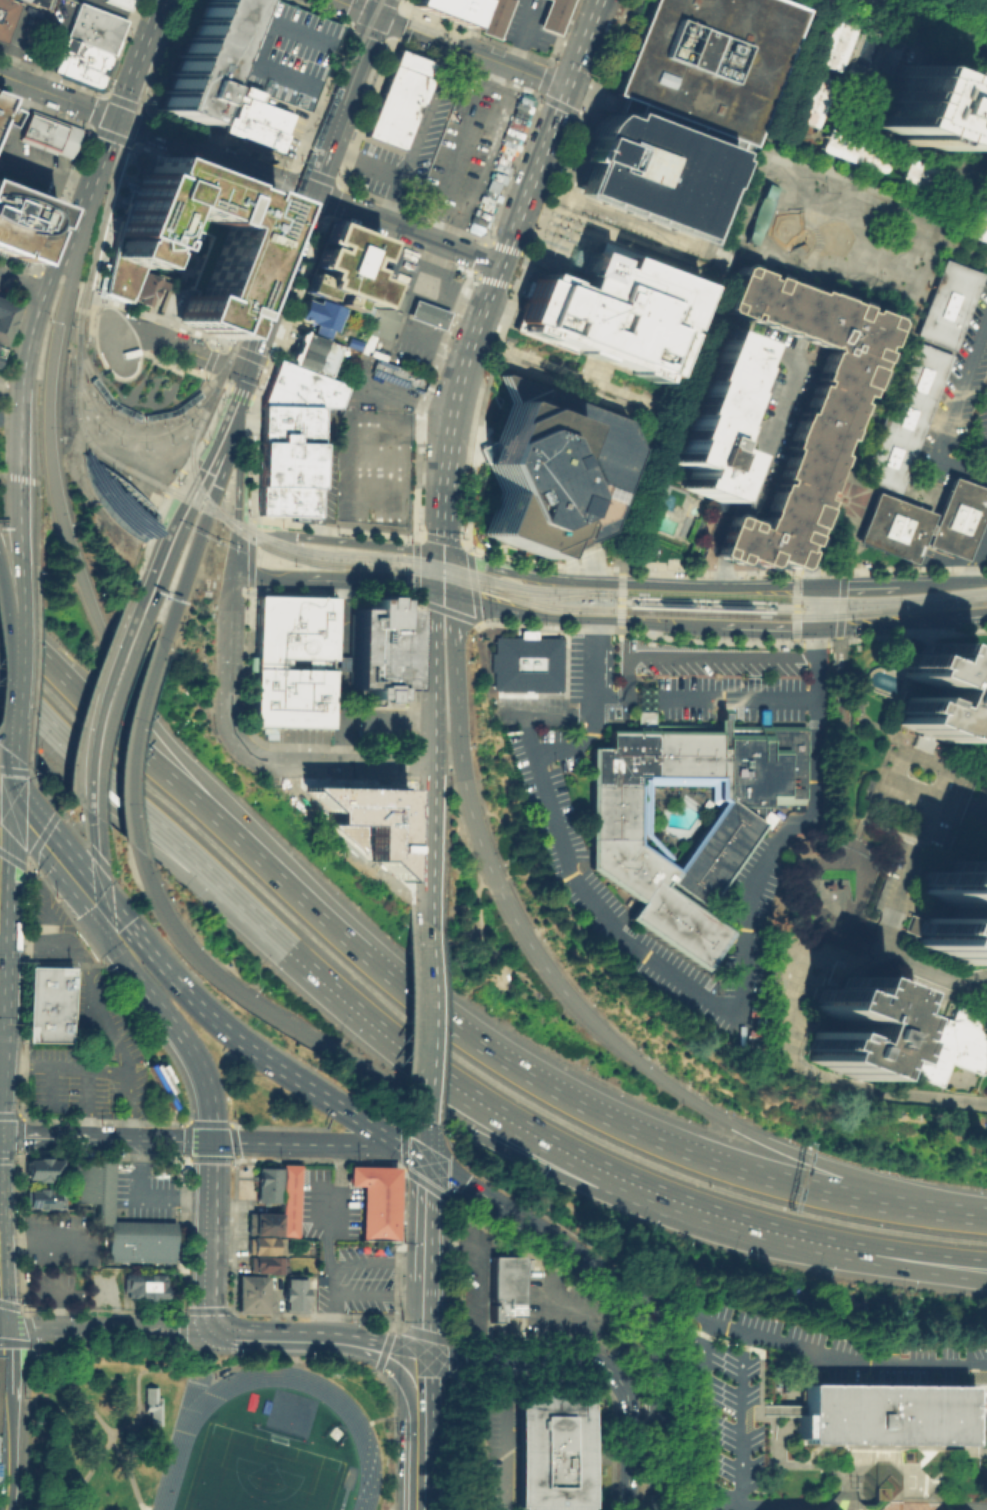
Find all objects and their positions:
building: (40, 2)
building: (120, 3)
road: (407, 3)
road: (818, 3)
road: (358, 8)
road: (384, 8)
building: (451, 9)
road: (956, 11)
road: (121, 12)
building: (552, 14)
railway: (948, 14)
building: (6, 16)
traffic signals: (381, 17)
building: (494, 17)
railway: (926, 22)
road: (277, 25)
road: (919, 25)
building: (94, 27)
road: (561, 29)
road: (972, 31)
road: (477, 34)
road: (550, 37)
road: (512, 43)
road: (583, 43)
building: (834, 43)
road: (12, 44)
road: (45, 45)
road: (473, 51)
road: (931, 51)
building: (280, 55)
road: (138, 59)
building: (205, 60)
building: (709, 60)
building: (81, 61)
road: (245, 68)
railway: (147, 81)
traffic signals: (566, 87)
road: (57, 96)
building: (399, 97)
building: (813, 99)
road: (507, 102)
road: (347, 104)
building: (915, 106)
road: (428, 110)
traffic signals: (116, 118)
building: (258, 121)
building: (48, 132)
road: (138, 136)
road: (122, 140)
road: (214, 143)
building: (855, 150)
parking lot: (474, 152)
road: (214, 155)
parking lot: (399, 157)
road: (14, 158)
road: (367, 162)
building: (657, 168)
railway: (303, 172)
road: (208, 173)
building: (916, 173)
road: (93, 180)
road: (530, 183)
road: (855, 185)
road: (284, 192)
traffic signals: (314, 193)
road: (394, 198)
road: (61, 199)
railway: (273, 205)
road: (294, 205)
road: (805, 208)
building: (758, 212)
building: (979, 215)
road: (109, 218)
road: (626, 221)
road: (438, 222)
building: (21, 223)
road: (855, 224)
railway: (101, 225)
road: (449, 227)
road: (406, 228)
road: (299, 229)
fountain: (808, 232)
park: (831, 235)
road: (631, 237)
railway: (99, 240)
road: (532, 240)
road: (664, 243)
road: (397, 244)
road: (949, 244)
building: (235, 246)
road: (748, 249)
road: (516, 251)
road: (715, 254)
road: (978, 255)
building: (382, 260)
road: (19, 264)
road: (873, 264)
road: (53, 266)
building: (343, 269)
road: (252, 273)
road: (57, 277)
road: (180, 279)
road: (77, 283)
road: (504, 284)
road: (21, 285)
building: (147, 285)
road: (709, 286)
road: (26, 287)
road: (296, 289)
road: (76, 296)
road: (20, 300)
building: (946, 304)
road: (81, 309)
building: (610, 309)
road: (89, 311)
building: (385, 312)
building: (427, 314)
gas station: (427, 314)
road: (91, 316)
building: (319, 316)
road: (504, 316)
building: (6, 317)
road: (158, 318)
road: (497, 318)
road: (265, 319)
road: (29, 338)
road: (118, 342)
building: (351, 342)
building: (0, 347)
road: (181, 348)
road: (238, 350)
building: (312, 353)
road: (209, 357)
road: (260, 359)
road: (464, 359)
road: (172, 363)
road: (795, 366)
traffic signals: (247, 374)
building: (396, 374)
road: (206, 375)
road: (5, 376)
road: (580, 376)
parking lot: (961, 379)
road: (216, 380)
road: (261, 381)
railway: (77, 384)
road: (226, 385)
building: (300, 388)
road: (236, 389)
road: (573, 393)
road: (246, 394)
road: (394, 395)
road: (237, 396)
road: (252, 398)
road: (240, 399)
road: (419, 400)
road: (213, 411)
road: (10, 415)
road: (251, 415)
building: (709, 415)
railway: (139, 416)
building: (904, 416)
road: (948, 418)
road: (246, 424)
parking lot: (258, 424)
road: (287, 424)
parking lot: (976, 429)
building: (819, 430)
road: (20, 431)
railway: (135, 438)
road: (474, 441)
road: (192, 454)
building: (286, 460)
road: (213, 462)
building: (552, 468)
road: (846, 468)
traffic signals: (209, 472)
road: (252, 473)
road: (1, 474)
road: (983, 475)
road: (176, 476)
road: (17, 477)
road: (320, 478)
road: (914, 481)
traffic signals: (216, 485)
road: (168, 489)
road: (866, 489)
road: (243, 494)
road: (236, 497)
road: (443, 497)
fountain: (843, 498)
building: (115, 500)
road: (18, 518)
road: (251, 518)
building: (923, 521)
road: (35, 522)
road: (332, 528)
road: (197, 533)
road: (418, 536)
road: (732, 536)
road: (257, 537)
road: (441, 537)
road: (147, 540)
road: (413, 540)
road: (461, 541)
road: (361, 542)
traffic signals: (235, 543)
road: (467, 544)
road: (812, 548)
road: (975, 548)
road: (470, 550)
road: (249, 553)
traffic signals: (442, 553)
parking lot: (986, 553)
railway: (371, 555)
road: (169, 558)
road: (950, 561)
road: (413, 566)
road: (438, 569)
road: (721, 571)
road: (727, 571)
traffic signals: (233, 572)
road: (445, 572)
road: (269, 577)
road: (371, 579)
road: (624, 582)
road: (943, 582)
traffic signals: (810, 585)
road: (854, 585)
traffic signals: (435, 586)
road: (336, 591)
traffic signals: (451, 591)
railway: (504, 593)
railway: (544, 596)
railway: (813, 599)
road: (18, 600)
road: (619, 600)
railway: (628, 601)
road: (706, 603)
railway: (771, 605)
road: (794, 606)
road: (475, 613)
road: (434, 614)
road: (966, 614)
road: (4, 616)
road: (576, 617)
road: (879, 621)
road: (545, 625)
road: (767, 627)
traffic signals: (814, 627)
building: (292, 631)
road: (890, 632)
road: (107, 638)
road: (705, 639)
road: (814, 640)
road: (453, 646)
building: (377, 648)
road: (702, 653)
building: (526, 661)
road: (229, 663)
road: (245, 664)
road: (412, 666)
road: (31, 667)
road: (341, 672)
road: (12, 679)
road: (616, 691)
building: (935, 693)
road: (89, 695)
building: (290, 696)
road: (663, 697)
road: (434, 705)
road: (111, 713)
road: (535, 713)
road: (388, 716)
road: (870, 722)
road: (819, 723)
road: (6, 727)
road: (12, 735)
road: (133, 745)
road: (332, 746)
road: (898, 752)
road: (12, 764)
road: (337, 765)
road: (13, 770)
road: (27, 771)
traffic signals: (13, 775)
road: (181, 786)
road: (40, 789)
road: (71, 794)
road: (11, 796)
road: (130, 796)
road: (64, 804)
road: (974, 809)
road: (4, 812)
traffic signals: (9, 817)
road: (65, 819)
building: (645, 819)
building: (365, 820)
road: (83, 823)
road: (8, 826)
building: (731, 826)
road: (127, 828)
parking lot: (558, 832)
road: (4, 834)
road: (56, 837)
road: (100, 839)
road: (433, 846)
road: (7, 848)
road: (3, 861)
road: (104, 880)
road: (62, 882)
park: (832, 887)
road: (857, 891)
building: (880, 894)
parking lot: (880, 894)
traffic signals: (106, 897)
building: (954, 911)
road: (41, 919)
road: (110, 923)
road: (881, 930)
road: (2, 944)
road: (4, 945)
road: (37, 946)
traffic signals: (115, 949)
road: (387, 962)
road: (382, 969)
road: (698, 989)
road: (942, 993)
road: (570, 999)
building: (47, 1004)
road: (98, 1008)
road: (428, 1021)
building: (847, 1023)
road: (179, 1038)
road: (237, 1039)
road: (0, 1046)
building: (951, 1050)
road: (63, 1065)
road: (793, 1065)
building: (161, 1081)
parking lot: (81, 1084)
road: (389, 1084)
road: (469, 1096)
road: (49, 1100)
road: (82, 1102)
road: (126, 1104)
road: (600, 1111)
road: (48, 1137)
road: (425, 1139)
road: (152, 1140)
traffic signals: (209, 1142)
road: (303, 1144)
road: (412, 1152)
traffic signals: (425, 1161)
building: (40, 1169)
road: (405, 1169)
building: (266, 1183)
road: (905, 1193)
building: (363, 1196)
building: (43, 1198)
building: (286, 1199)
building: (384, 1201)
road: (897, 1203)
building: (104, 1211)
road: (977, 1216)
building: (261, 1223)
road: (523, 1225)
road: (769, 1229)
road: (207, 1237)
road: (326, 1239)
building: (264, 1245)
road: (905, 1250)
road: (423, 1255)
road: (375, 1262)
building: (265, 1264)
road: (903, 1267)
road: (476, 1272)
building: (142, 1285)
building: (502, 1286)
building: (250, 1292)
building: (293, 1293)
road: (377, 1294)
road: (643, 1301)
road: (643, 1309)
road: (0, 1314)
road: (0, 1325)
traffic signals: (1, 1326)
road: (29, 1327)
road: (138, 1327)
traffic signals: (219, 1329)
road: (615, 1329)
road: (414, 1331)
road: (630, 1335)
road: (655, 1335)
road: (30, 1336)
road: (287, 1336)
road: (182, 1338)
road: (390, 1339)
road: (17, 1343)
road: (740, 1344)
road: (629, 1346)
road: (807, 1347)
traffic signals: (423, 1349)
parking lot: (843, 1349)
road: (657, 1350)
road: (513, 1357)
road: (3, 1363)
road: (979, 1366)
road: (396, 1374)
road: (425, 1387)
road: (657, 1392)
road: (81, 1397)
building: (150, 1403)
building: (882, 1412)
parking lot: (721, 1414)
road: (704, 1415)
road: (136, 1416)
road: (389, 1416)
road: (736, 1416)
road: (664, 1423)
road: (25, 1426)
park: (205, 1432)
road: (628, 1434)
track: (180, 1437)
road: (922, 1446)
building: (550, 1450)
road: (504, 1452)
road: (7, 1455)
road: (97, 1459)
road: (657, 1464)
road: (415, 1466)
park: (257, 1474)
fountain: (878, 1478)
road: (407, 1503)
road: (760, 1505)
building: (884, 1505)
parking lot: (884, 1505)
road: (969, 1507)

